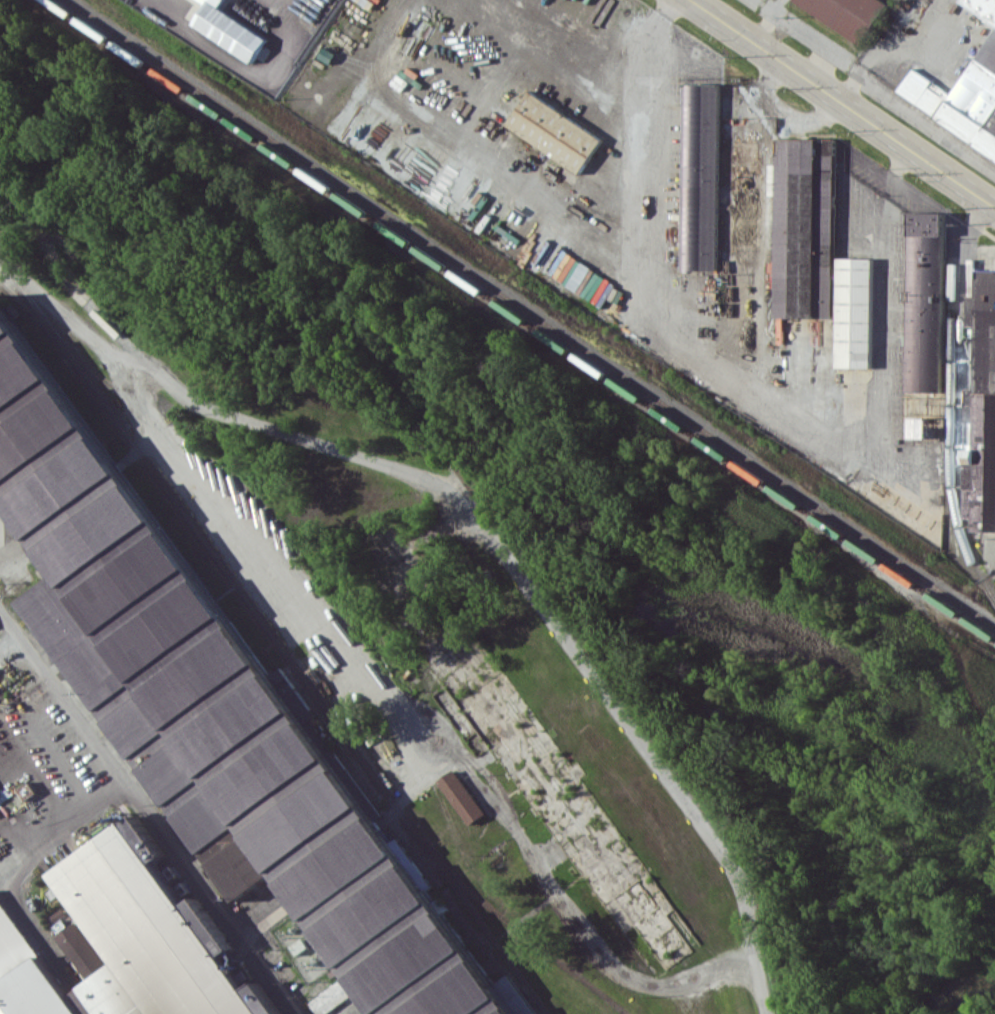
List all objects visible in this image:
road: (663, 5)
building: (982, 7)
building: (847, 14)
building: (230, 29)
road: (251, 72)
road: (867, 75)
building: (960, 98)
road: (842, 103)
road: (777, 116)
road: (472, 117)
building: (555, 131)
road: (892, 170)
building: (701, 176)
building: (746, 191)
building: (805, 227)
road: (962, 252)
building: (925, 302)
building: (970, 311)
building: (855, 312)
railway: (530, 313)
railway: (34, 315)
railway: (522, 319)
road: (736, 375)
building: (981, 415)
building: (923, 427)
road: (487, 531)
railway: (272, 636)
railway: (249, 670)
building: (213, 709)
railway: (215, 717)
railway: (201, 737)
road: (60, 760)
road: (40, 780)
building: (27, 790)
building: (462, 796)
road: (146, 813)
road: (25, 848)
railway: (514, 925)
building: (128, 938)
building: (332, 997)

